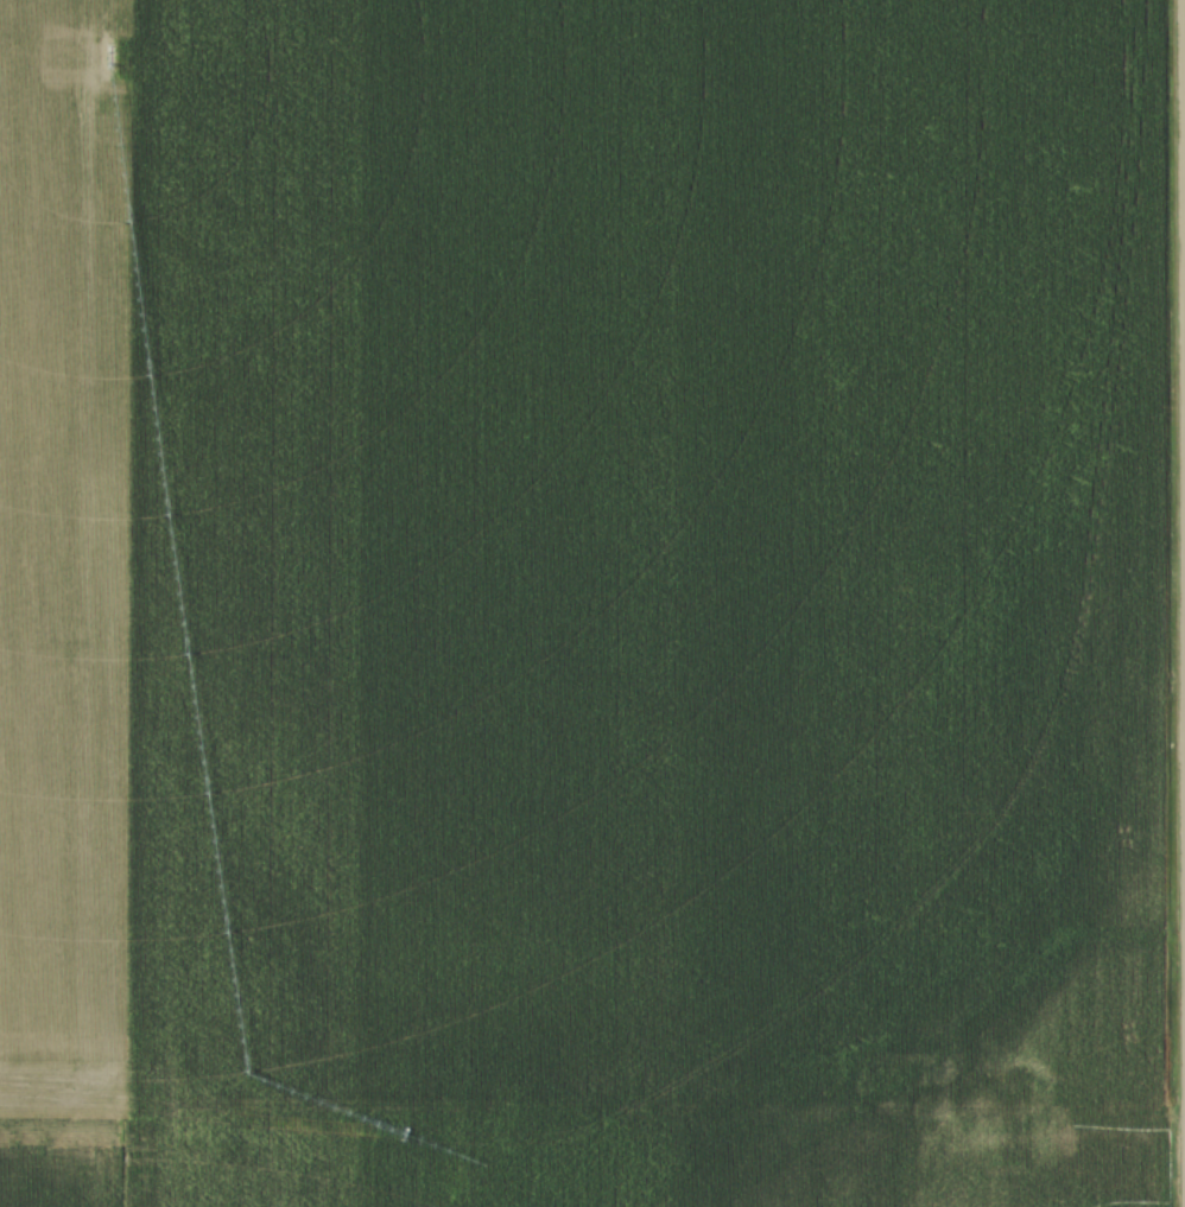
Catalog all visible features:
crop: (578, 603)
building: (197, 960)

